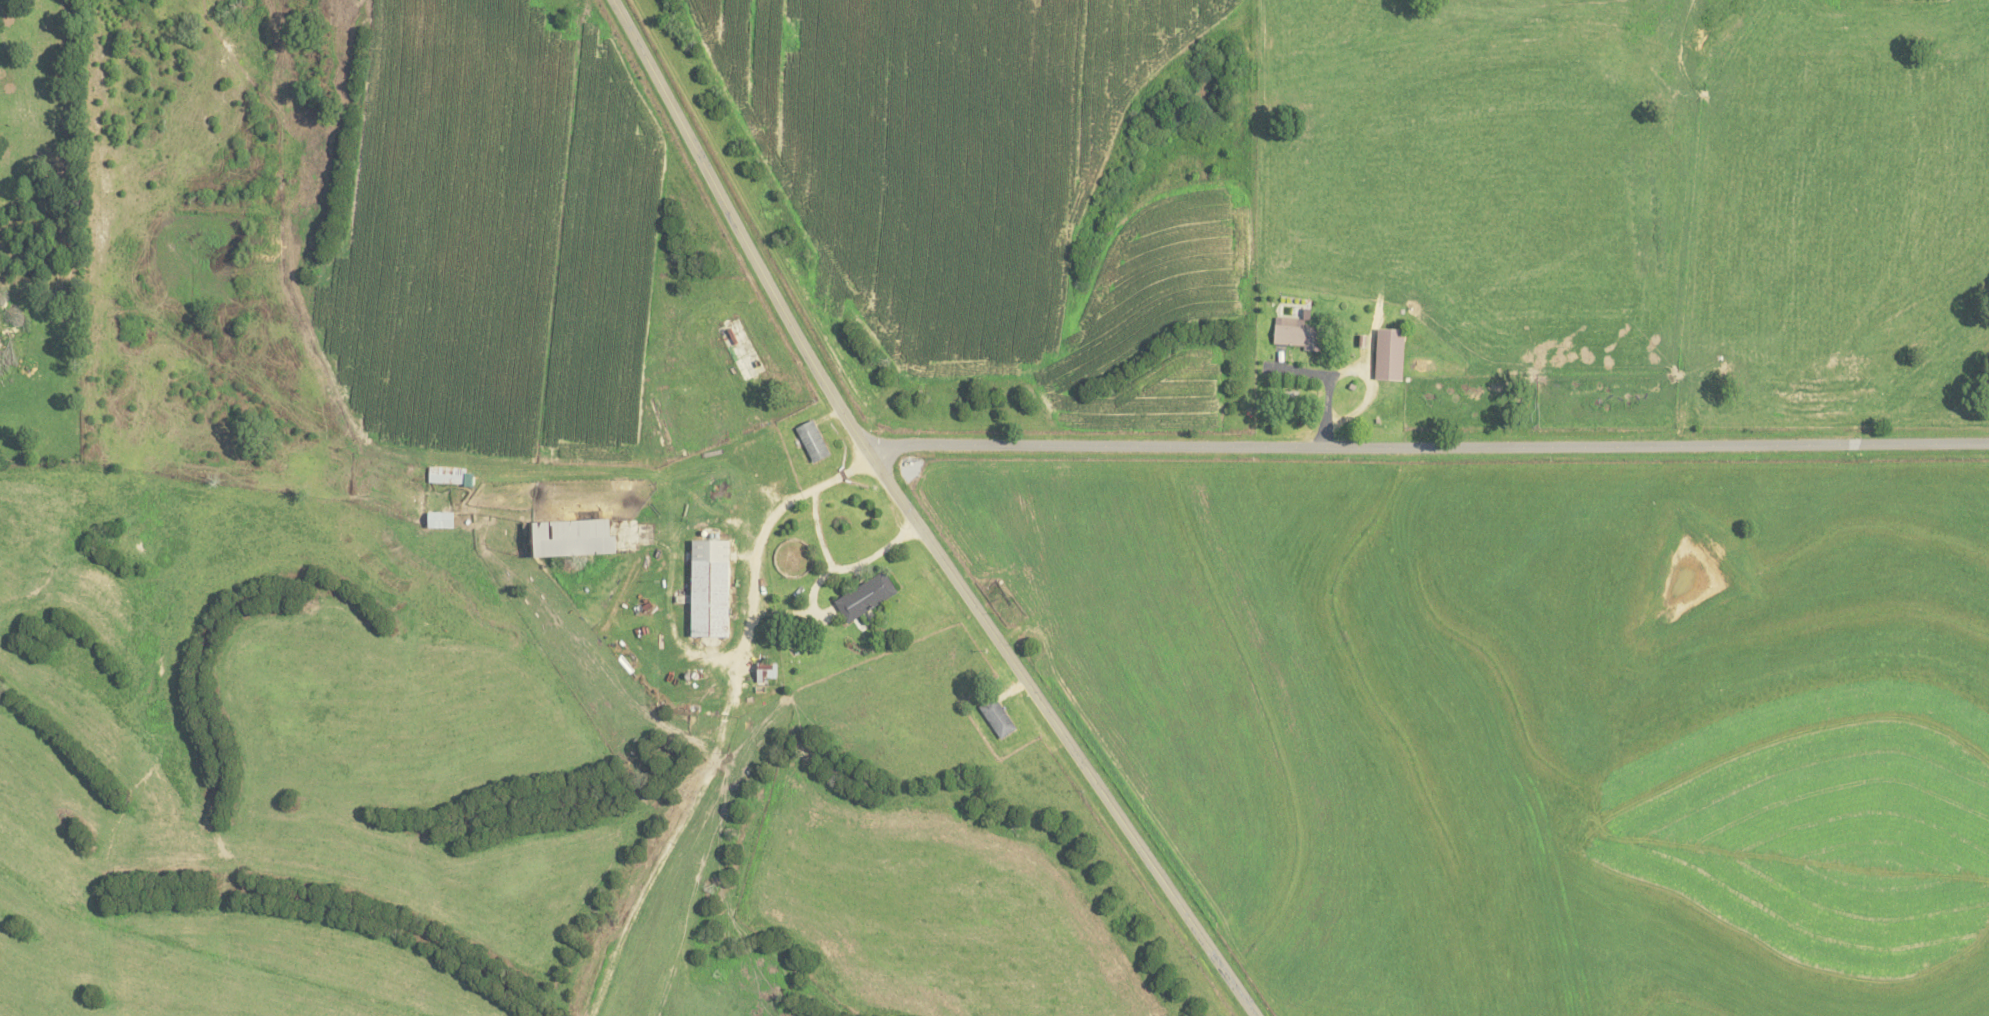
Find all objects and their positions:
building: (1292, 333)
building: (1385, 354)
building: (815, 441)
road: (1426, 447)
building: (453, 476)
road: (913, 519)
building: (445, 520)
road: (766, 523)
building: (585, 538)
road: (841, 568)
building: (713, 587)
building: (869, 597)
building: (770, 672)
building: (999, 717)

